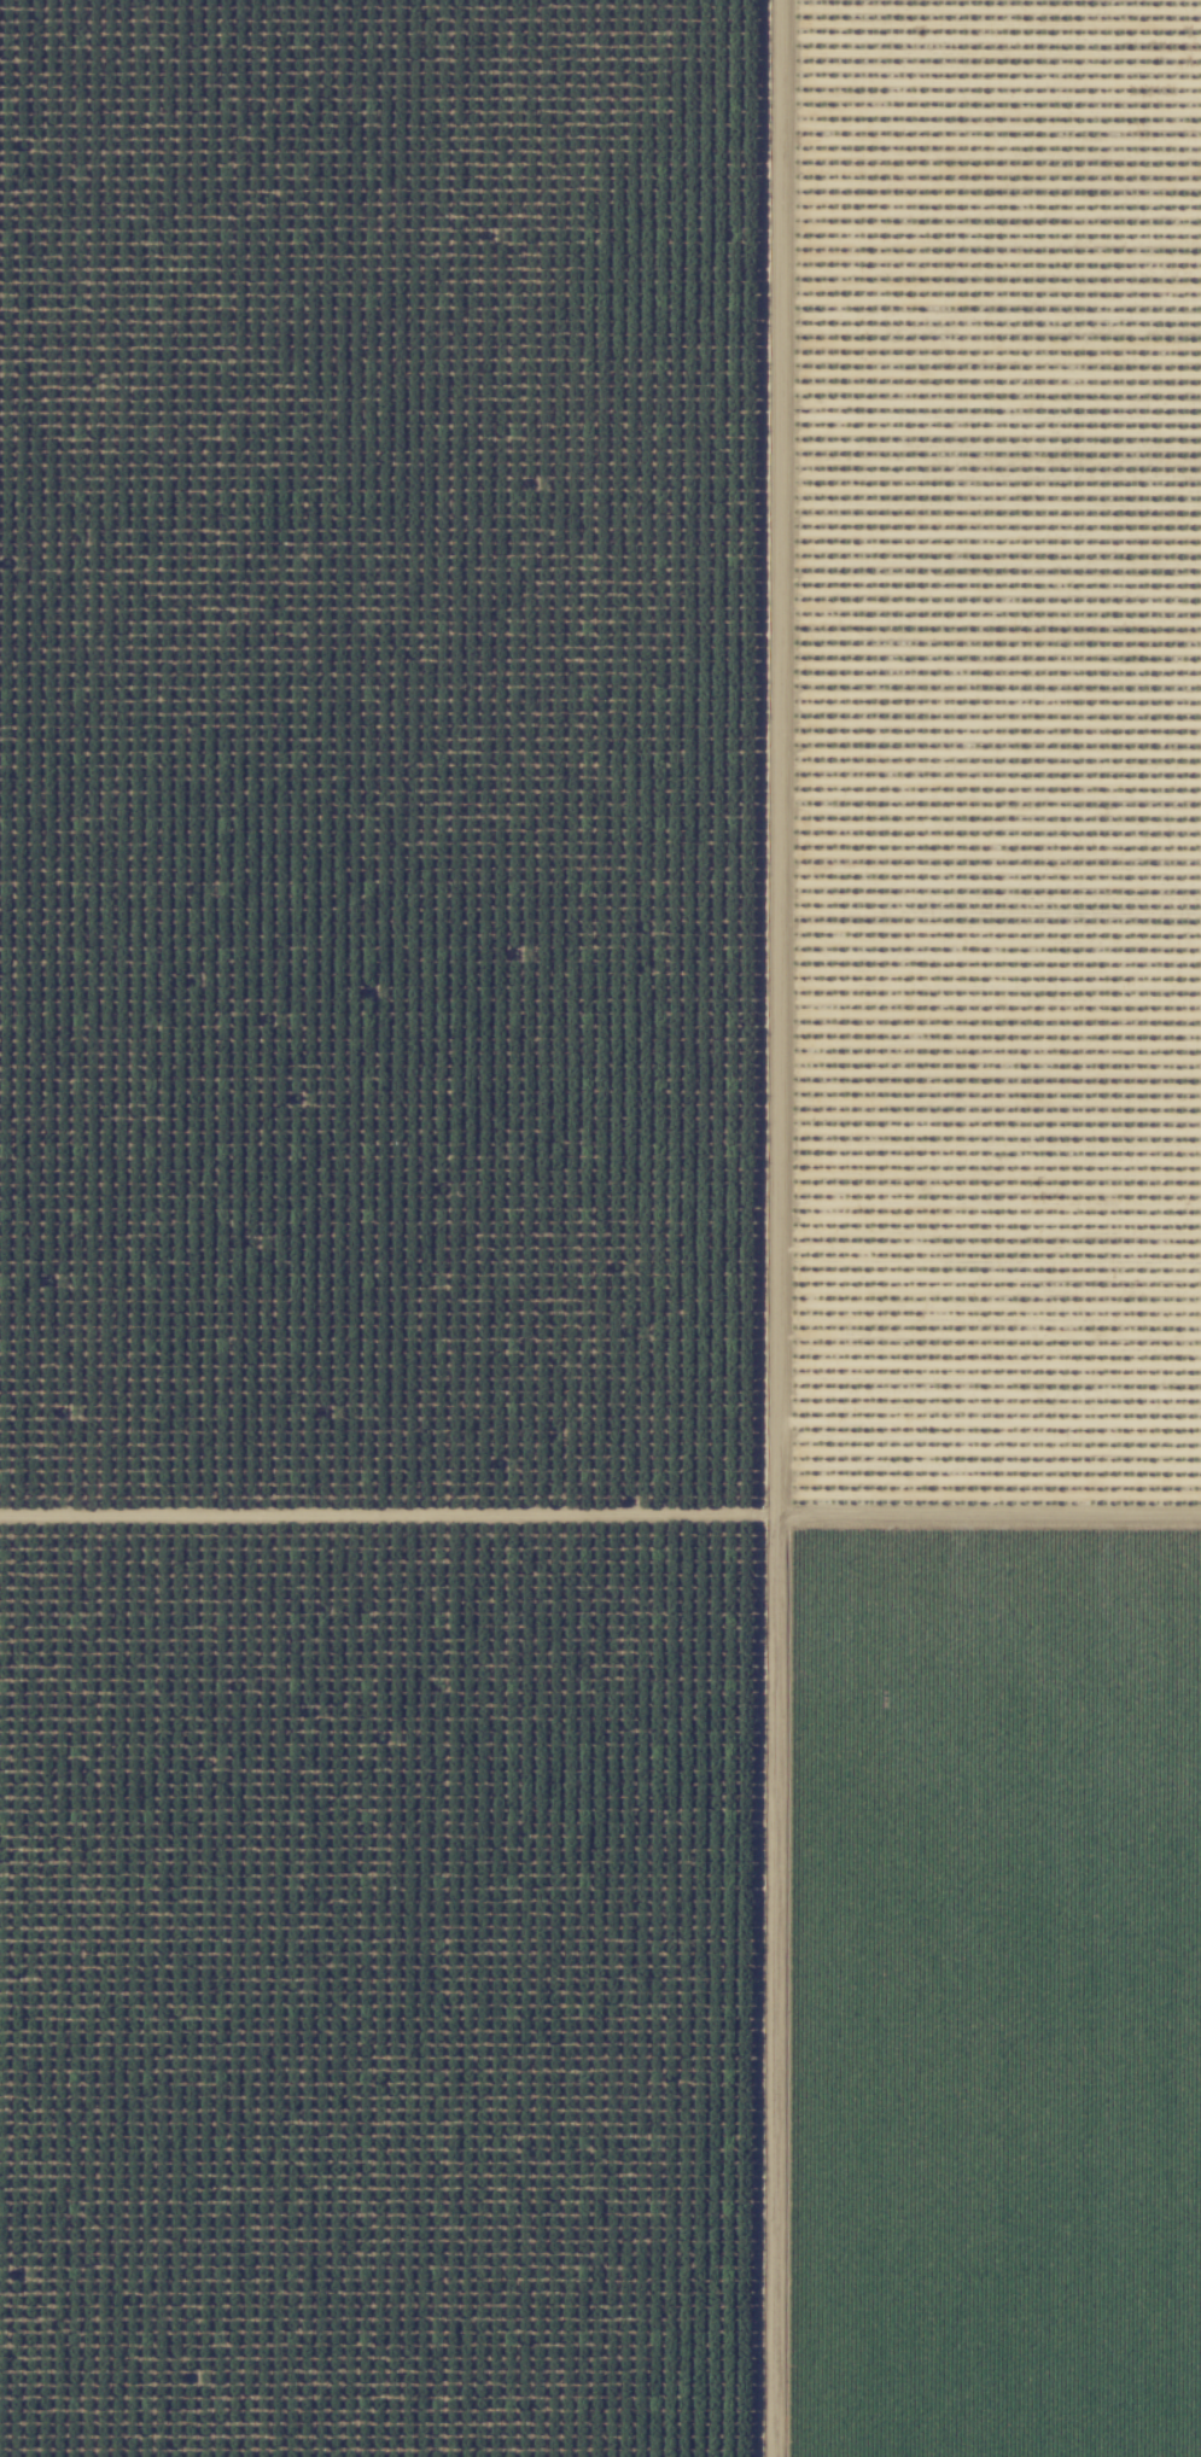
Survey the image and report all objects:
road: (788, 1228)

